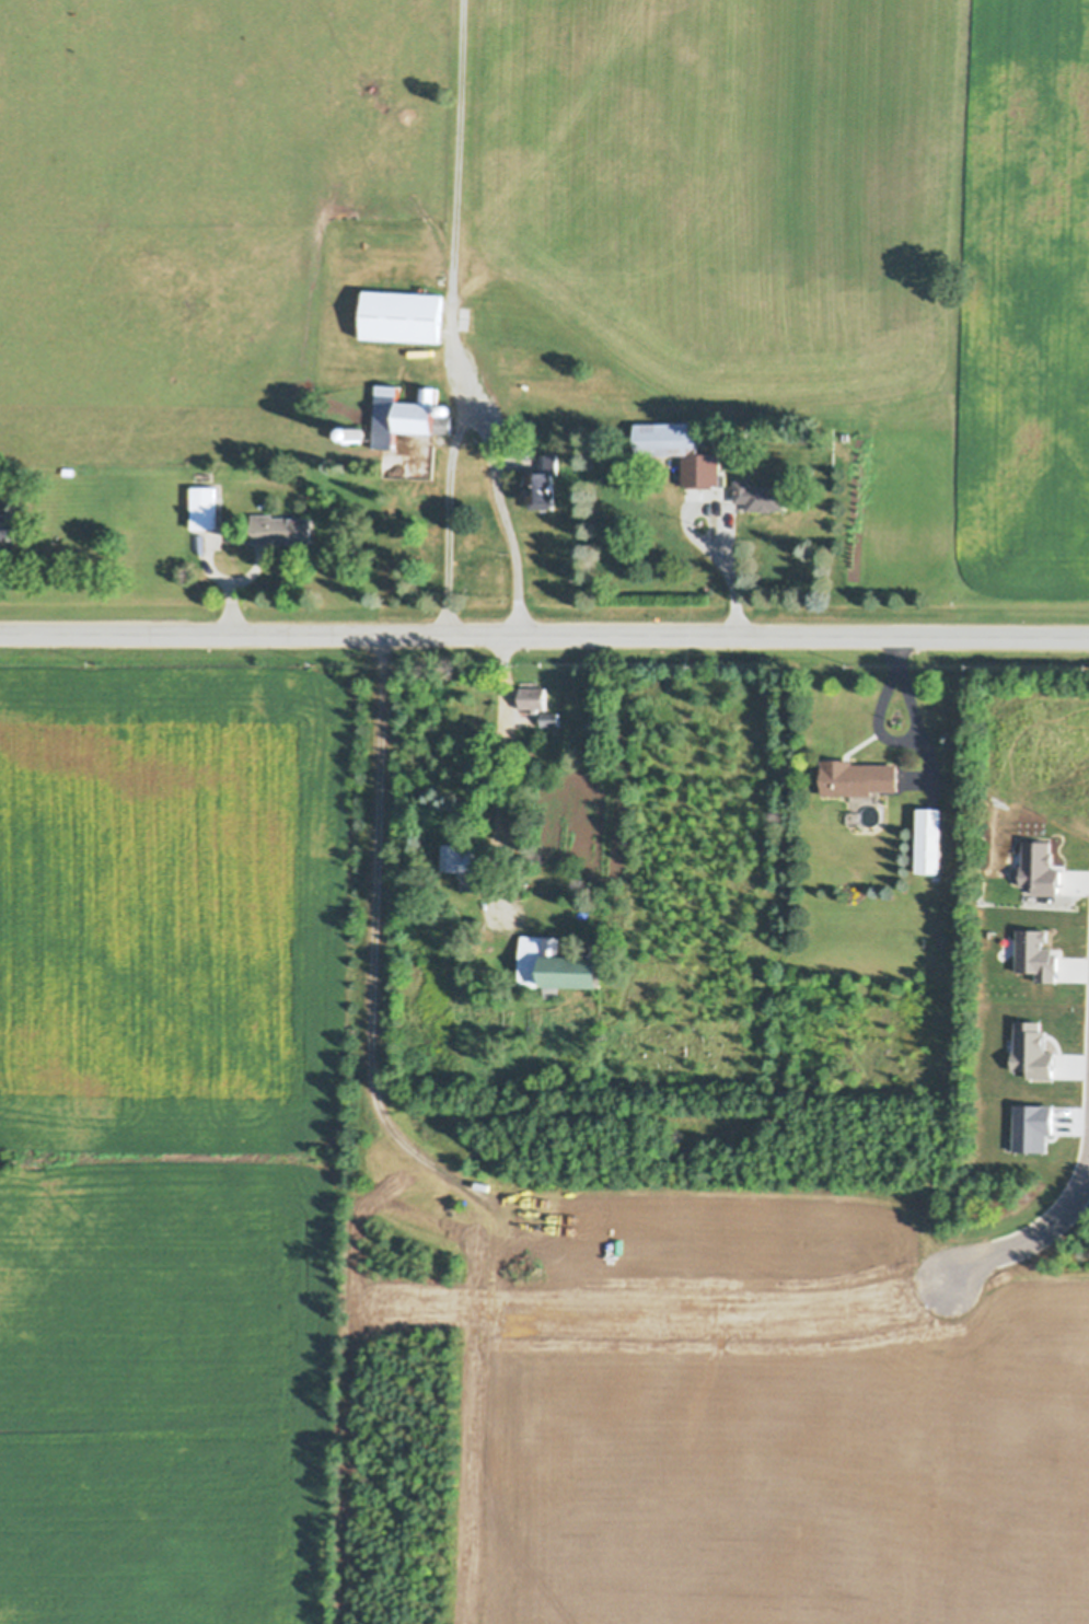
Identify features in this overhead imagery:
building: (404, 311)
building: (408, 410)
road: (476, 414)
building: (359, 431)
building: (682, 448)
building: (69, 468)
building: (202, 474)
building: (544, 479)
building: (761, 492)
building: (205, 504)
building: (8, 523)
building: (281, 526)
road: (709, 534)
road: (544, 639)
building: (532, 696)
building: (548, 717)
road: (499, 759)
building: (856, 775)
building: (929, 837)
building: (462, 861)
road: (373, 950)
building: (554, 964)
crop: (173, 1133)
road: (1032, 1241)

